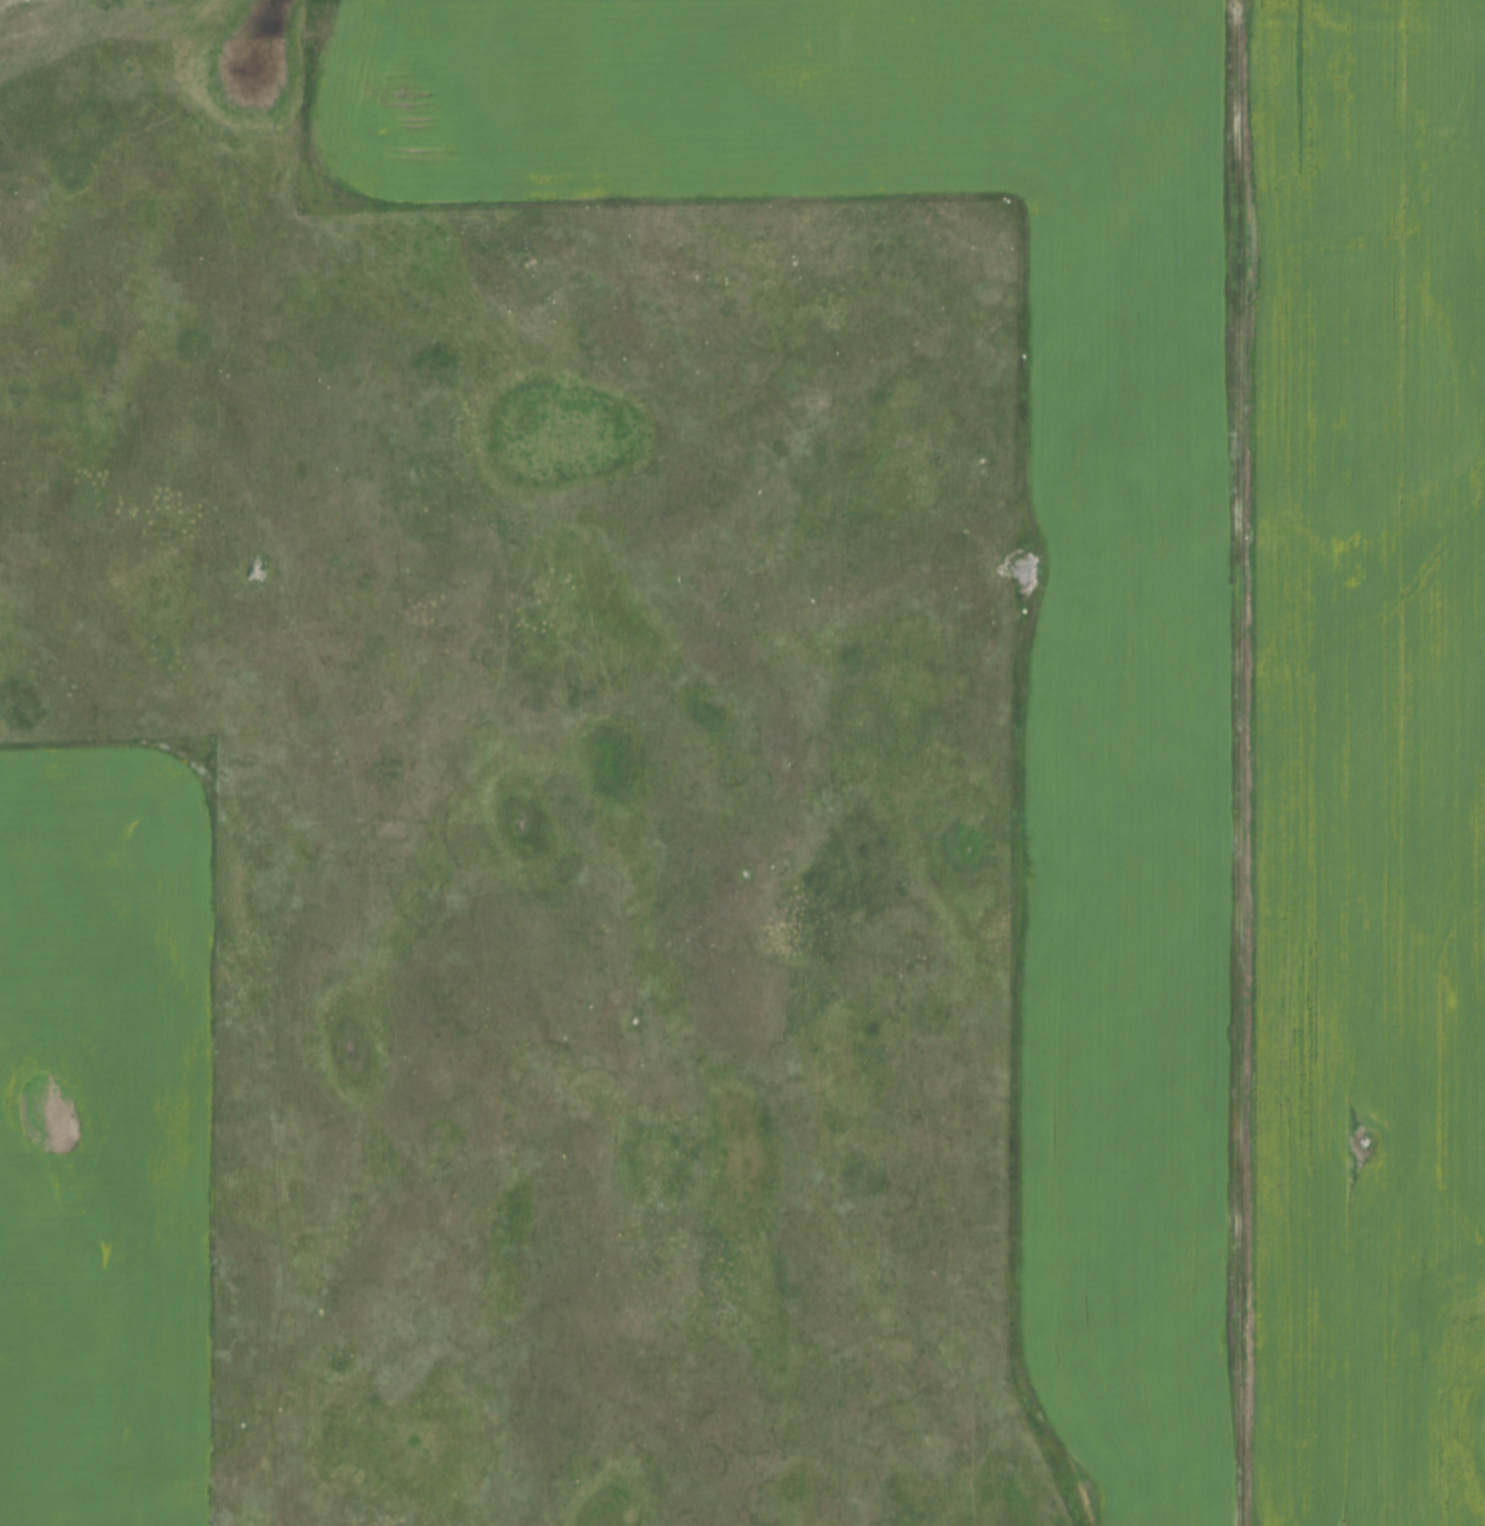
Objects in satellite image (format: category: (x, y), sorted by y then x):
road: (1236, 762)

